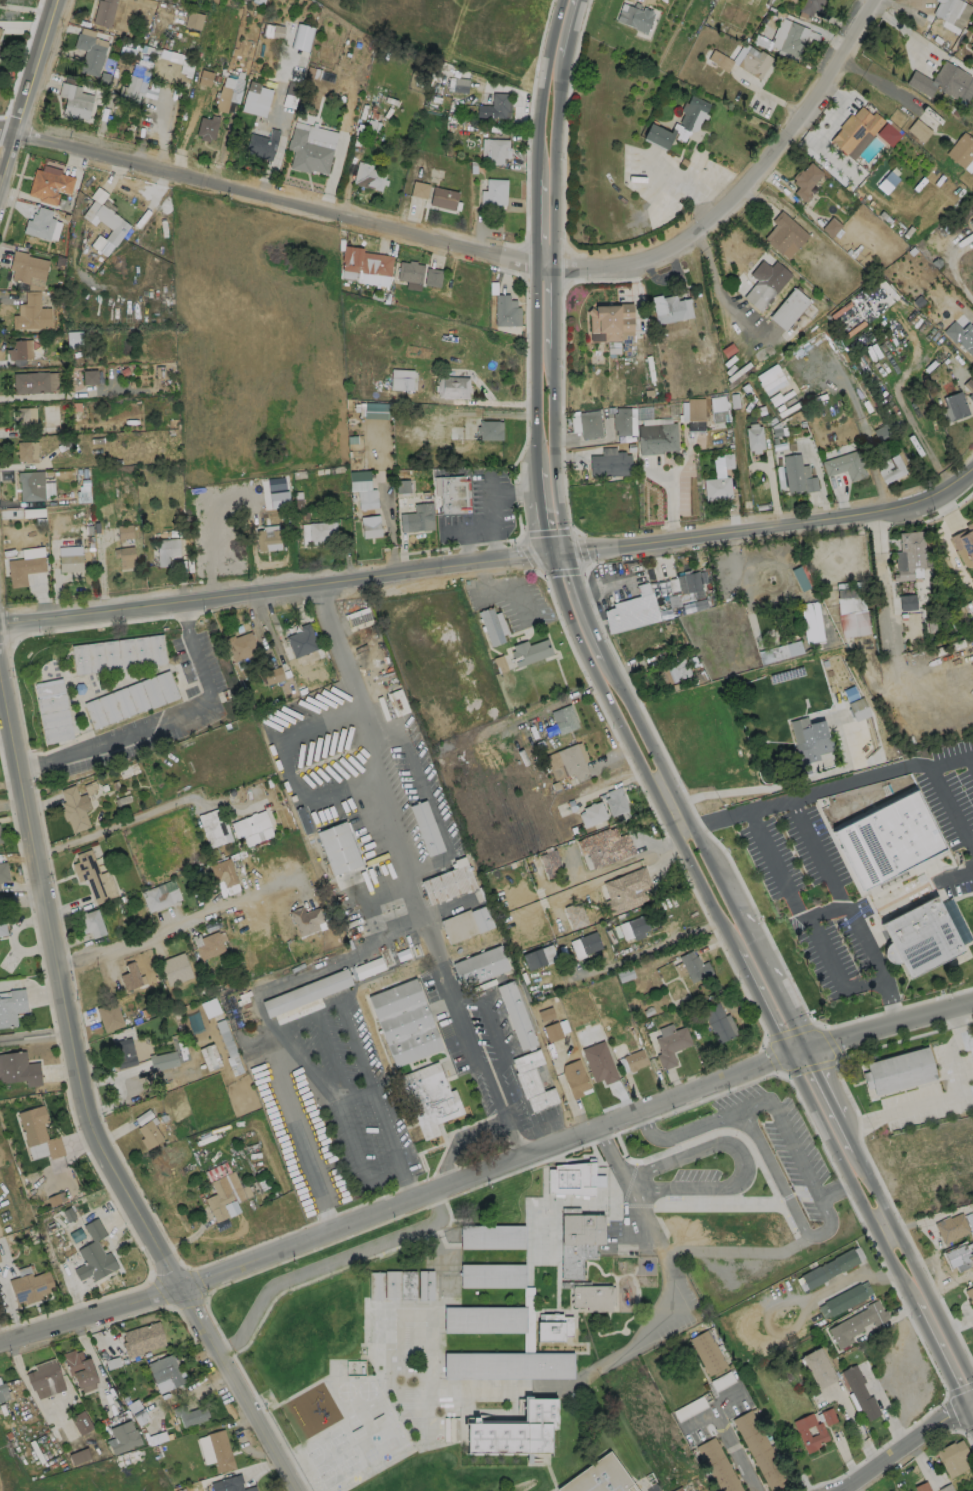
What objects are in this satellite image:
building: (810, 7)
road: (24, 8)
building: (946, 9)
building: (103, 12)
building: (635, 16)
building: (193, 20)
building: (296, 29)
building: (301, 37)
building: (790, 39)
building: (972, 39)
building: (972, 43)
building: (89, 53)
building: (742, 59)
building: (940, 80)
road: (877, 82)
building: (134, 84)
building: (460, 84)
road: (25, 89)
building: (228, 91)
building: (255, 98)
building: (75, 99)
building: (498, 105)
building: (690, 110)
building: (207, 127)
building: (855, 129)
building: (918, 130)
road: (549, 131)
building: (657, 134)
building: (887, 134)
building: (260, 143)
building: (960, 149)
building: (497, 150)
building: (306, 152)
building: (881, 174)
building: (368, 176)
building: (805, 180)
building: (49, 185)
building: (419, 189)
building: (493, 190)
building: (443, 197)
building: (628, 206)
building: (107, 218)
building: (39, 223)
building: (830, 226)
building: (784, 233)
road: (491, 251)
building: (365, 260)
building: (26, 266)
building: (410, 271)
building: (432, 277)
building: (763, 283)
building: (787, 307)
building: (670, 308)
building: (505, 310)
building: (31, 312)
building: (610, 319)
building: (960, 337)
building: (74, 338)
building: (16, 349)
building: (89, 377)
building: (769, 377)
building: (401, 379)
building: (31, 382)
building: (452, 387)
building: (968, 388)
road: (552, 405)
road: (535, 406)
building: (953, 406)
building: (373, 409)
building: (695, 409)
building: (718, 409)
building: (25, 416)
building: (621, 421)
building: (589, 423)
building: (489, 429)
building: (882, 434)
building: (753, 436)
building: (656, 437)
building: (714, 438)
building: (27, 451)
building: (609, 462)
building: (844, 465)
building: (890, 467)
building: (797, 475)
building: (31, 485)
building: (402, 486)
building: (716, 487)
road: (499, 492)
building: (453, 493)
building: (366, 498)
building: (32, 512)
building: (417, 518)
building: (370, 526)
road: (479, 526)
building: (124, 531)
building: (317, 531)
building: (266, 538)
building: (964, 539)
building: (166, 550)
traffic signals: (547, 550)
building: (908, 554)
building: (124, 556)
road: (492, 558)
building: (70, 562)
building: (23, 568)
building: (689, 583)
road: (501, 591)
building: (907, 602)
building: (632, 605)
building: (359, 618)
building: (811, 622)
building: (853, 623)
building: (491, 626)
building: (301, 640)
building: (240, 645)
road: (338, 647)
building: (790, 648)
building: (530, 651)
building: (118, 654)
building: (672, 670)
building: (271, 676)
building: (842, 685)
building: (131, 699)
building: (858, 709)
building: (53, 710)
building: (564, 718)
road: (162, 720)
building: (811, 744)
road: (971, 755)
road: (952, 759)
building: (572, 760)
building: (558, 772)
road: (861, 777)
building: (615, 800)
road: (773, 802)
road: (951, 804)
building: (74, 807)
building: (592, 813)
road: (721, 816)
road: (119, 825)
road: (681, 825)
building: (214, 827)
building: (426, 827)
building: (251, 828)
building: (0, 838)
building: (887, 839)
building: (605, 846)
building: (337, 847)
building: (550, 863)
road: (613, 869)
building: (3, 872)
building: (223, 872)
road: (963, 873)
building: (90, 874)
building: (447, 882)
building: (626, 889)
building: (160, 895)
road: (20, 897)
road: (850, 908)
building: (575, 915)
road: (807, 917)
building: (305, 920)
building: (91, 922)
building: (465, 923)
building: (637, 924)
building: (2, 926)
road: (140, 933)
building: (919, 937)
road: (430, 938)
building: (589, 941)
building: (209, 945)
building: (532, 958)
building: (479, 965)
building: (692, 966)
building: (367, 967)
road: (765, 967)
building: (175, 968)
building: (130, 977)
building: (305, 992)
road: (755, 992)
building: (12, 1006)
building: (209, 1007)
building: (546, 1014)
building: (514, 1015)
building: (109, 1016)
building: (404, 1021)
building: (719, 1023)
building: (552, 1032)
road: (34, 1035)
traffic signals: (806, 1044)
building: (228, 1046)
building: (671, 1046)
building: (123, 1053)
traffic signals: (786, 1054)
building: (209, 1057)
building: (634, 1059)
building: (163, 1060)
building: (18, 1068)
building: (898, 1071)
building: (574, 1077)
road: (369, 1078)
building: (531, 1080)
road: (289, 1096)
road: (83, 1098)
building: (429, 1098)
road: (688, 1129)
building: (38, 1130)
building: (149, 1134)
road: (742, 1162)
road: (486, 1171)
building: (216, 1172)
road: (406, 1173)
road: (629, 1178)
building: (570, 1179)
road: (838, 1194)
building: (227, 1195)
road: (828, 1218)
road: (884, 1226)
building: (951, 1227)
building: (543, 1228)
building: (494, 1238)
road: (656, 1239)
building: (579, 1245)
building: (94, 1254)
building: (959, 1255)
building: (829, 1268)
building: (545, 1275)
building: (493, 1278)
building: (391, 1285)
building: (407, 1285)
building: (425, 1285)
building: (30, 1286)
building: (375, 1286)
building: (970, 1295)
building: (846, 1297)
building: (592, 1300)
road: (802, 1310)
building: (486, 1322)
building: (856, 1323)
building: (553, 1329)
building: (142, 1340)
building: (707, 1352)
building: (357, 1366)
building: (485, 1367)
building: (816, 1367)
building: (554, 1368)
building: (79, 1370)
building: (166, 1371)
building: (45, 1381)
building: (859, 1392)
building: (4, 1393)
road: (884, 1402)
traffic signals: (962, 1407)
road: (713, 1408)
building: (137, 1412)
building: (189, 1414)
building: (827, 1416)
building: (81, 1422)
building: (809, 1432)
building: (513, 1434)
building: (122, 1437)
road: (903, 1444)
road: (735, 1449)
building: (219, 1450)
building: (759, 1450)
building: (79, 1455)
building: (952, 1457)
building: (717, 1466)
building: (600, 1478)
building: (229, 1484)
building: (922, 1487)
building: (677, 1489)

